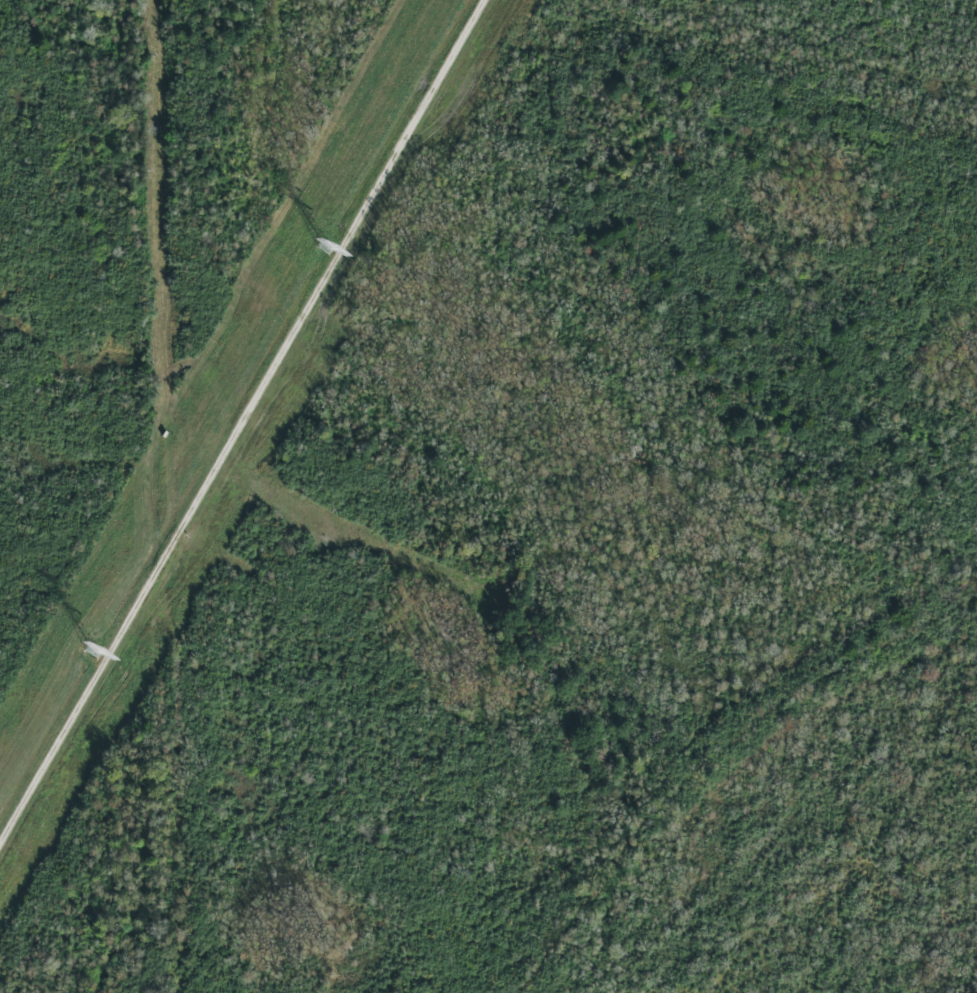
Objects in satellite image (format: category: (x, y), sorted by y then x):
power tower: (327, 248)
road: (246, 430)
power tower: (95, 653)

